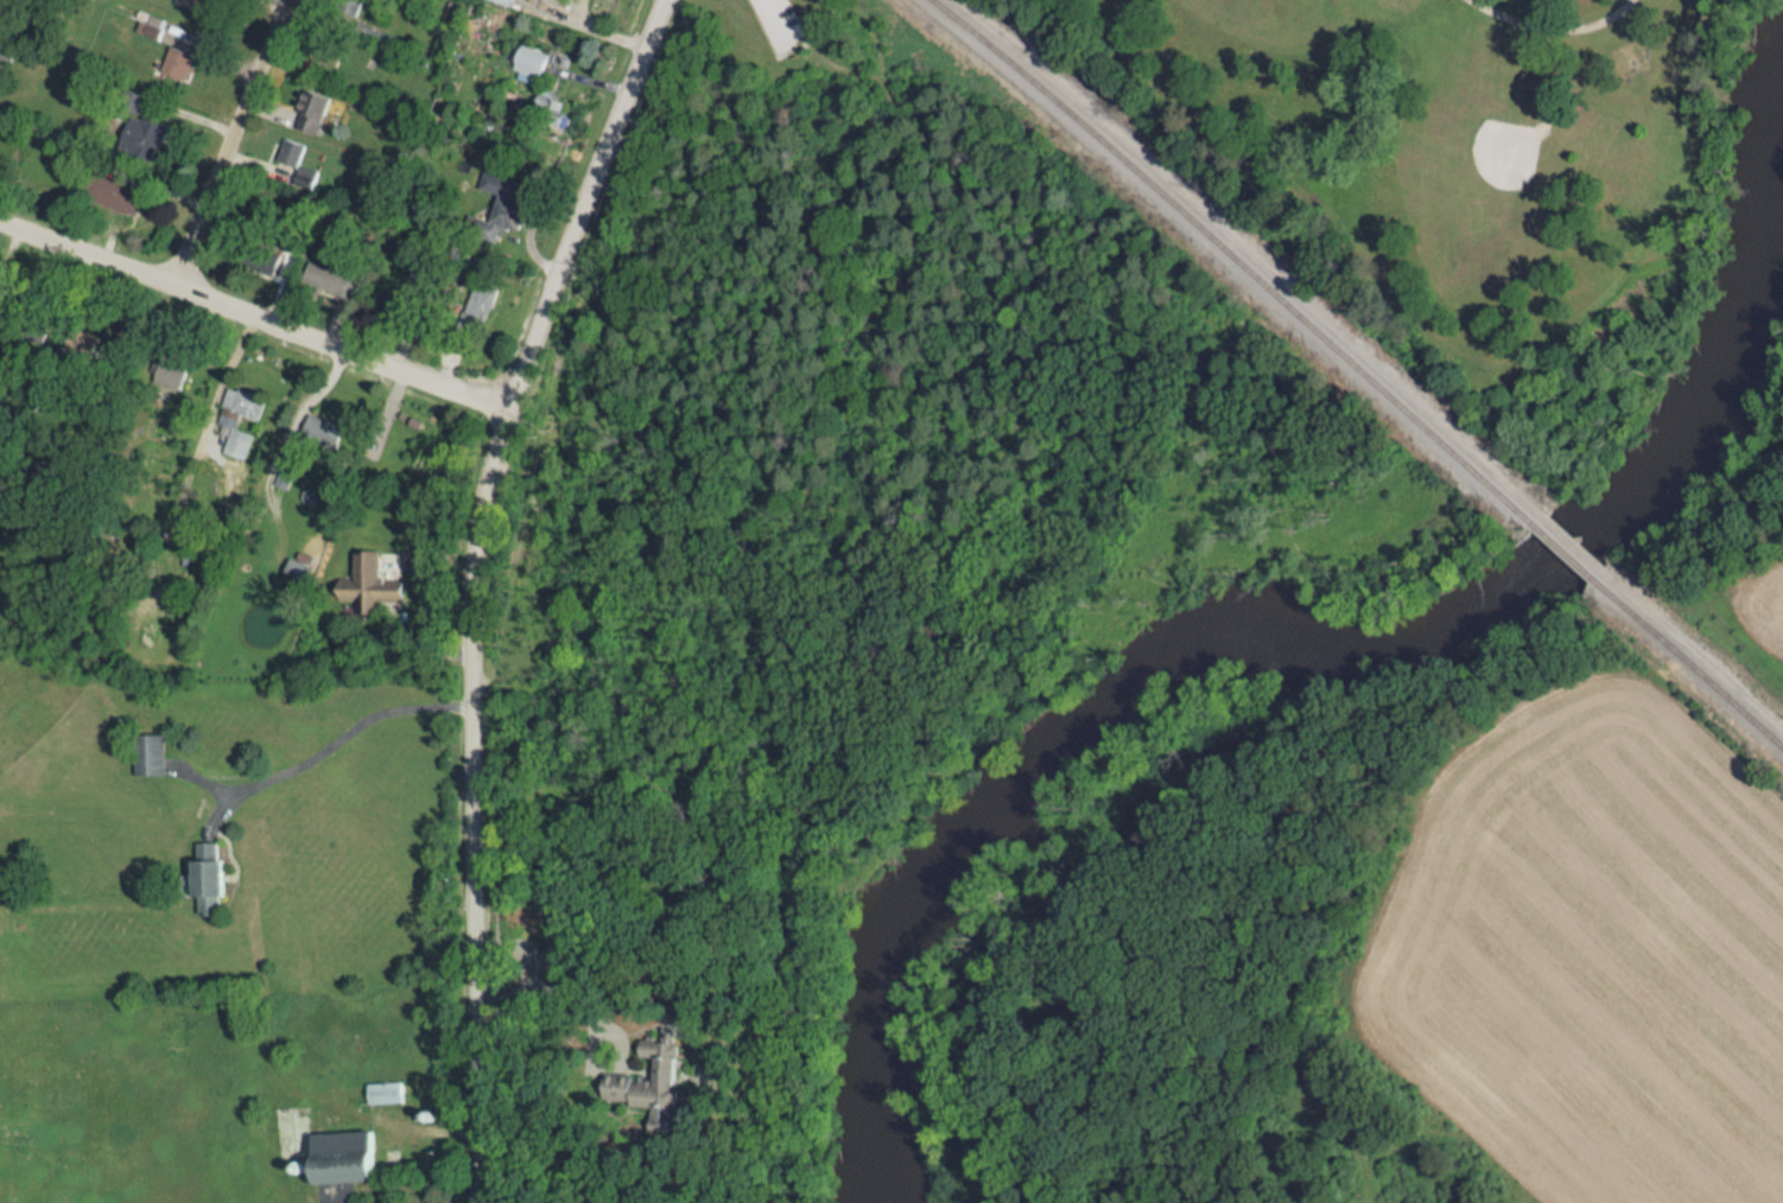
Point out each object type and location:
building: (508, 1)
road: (594, 21)
road: (775, 23)
parking lot: (776, 23)
road: (1553, 27)
building: (1629, 58)
building: (534, 62)
building: (180, 63)
road: (230, 141)
park: (1476, 173)
park: (1479, 173)
road: (85, 250)
railway: (1231, 255)
road: (342, 348)
railway: (1566, 553)
road: (472, 585)
crop: (1766, 611)
river: (1299, 647)
railway: (1695, 668)
road: (349, 730)
building: (152, 756)
building: (216, 879)
crop: (1599, 953)
road: (551, 982)
building: (385, 1091)
building: (349, 1157)
road: (443, 1195)
road: (419, 1202)

